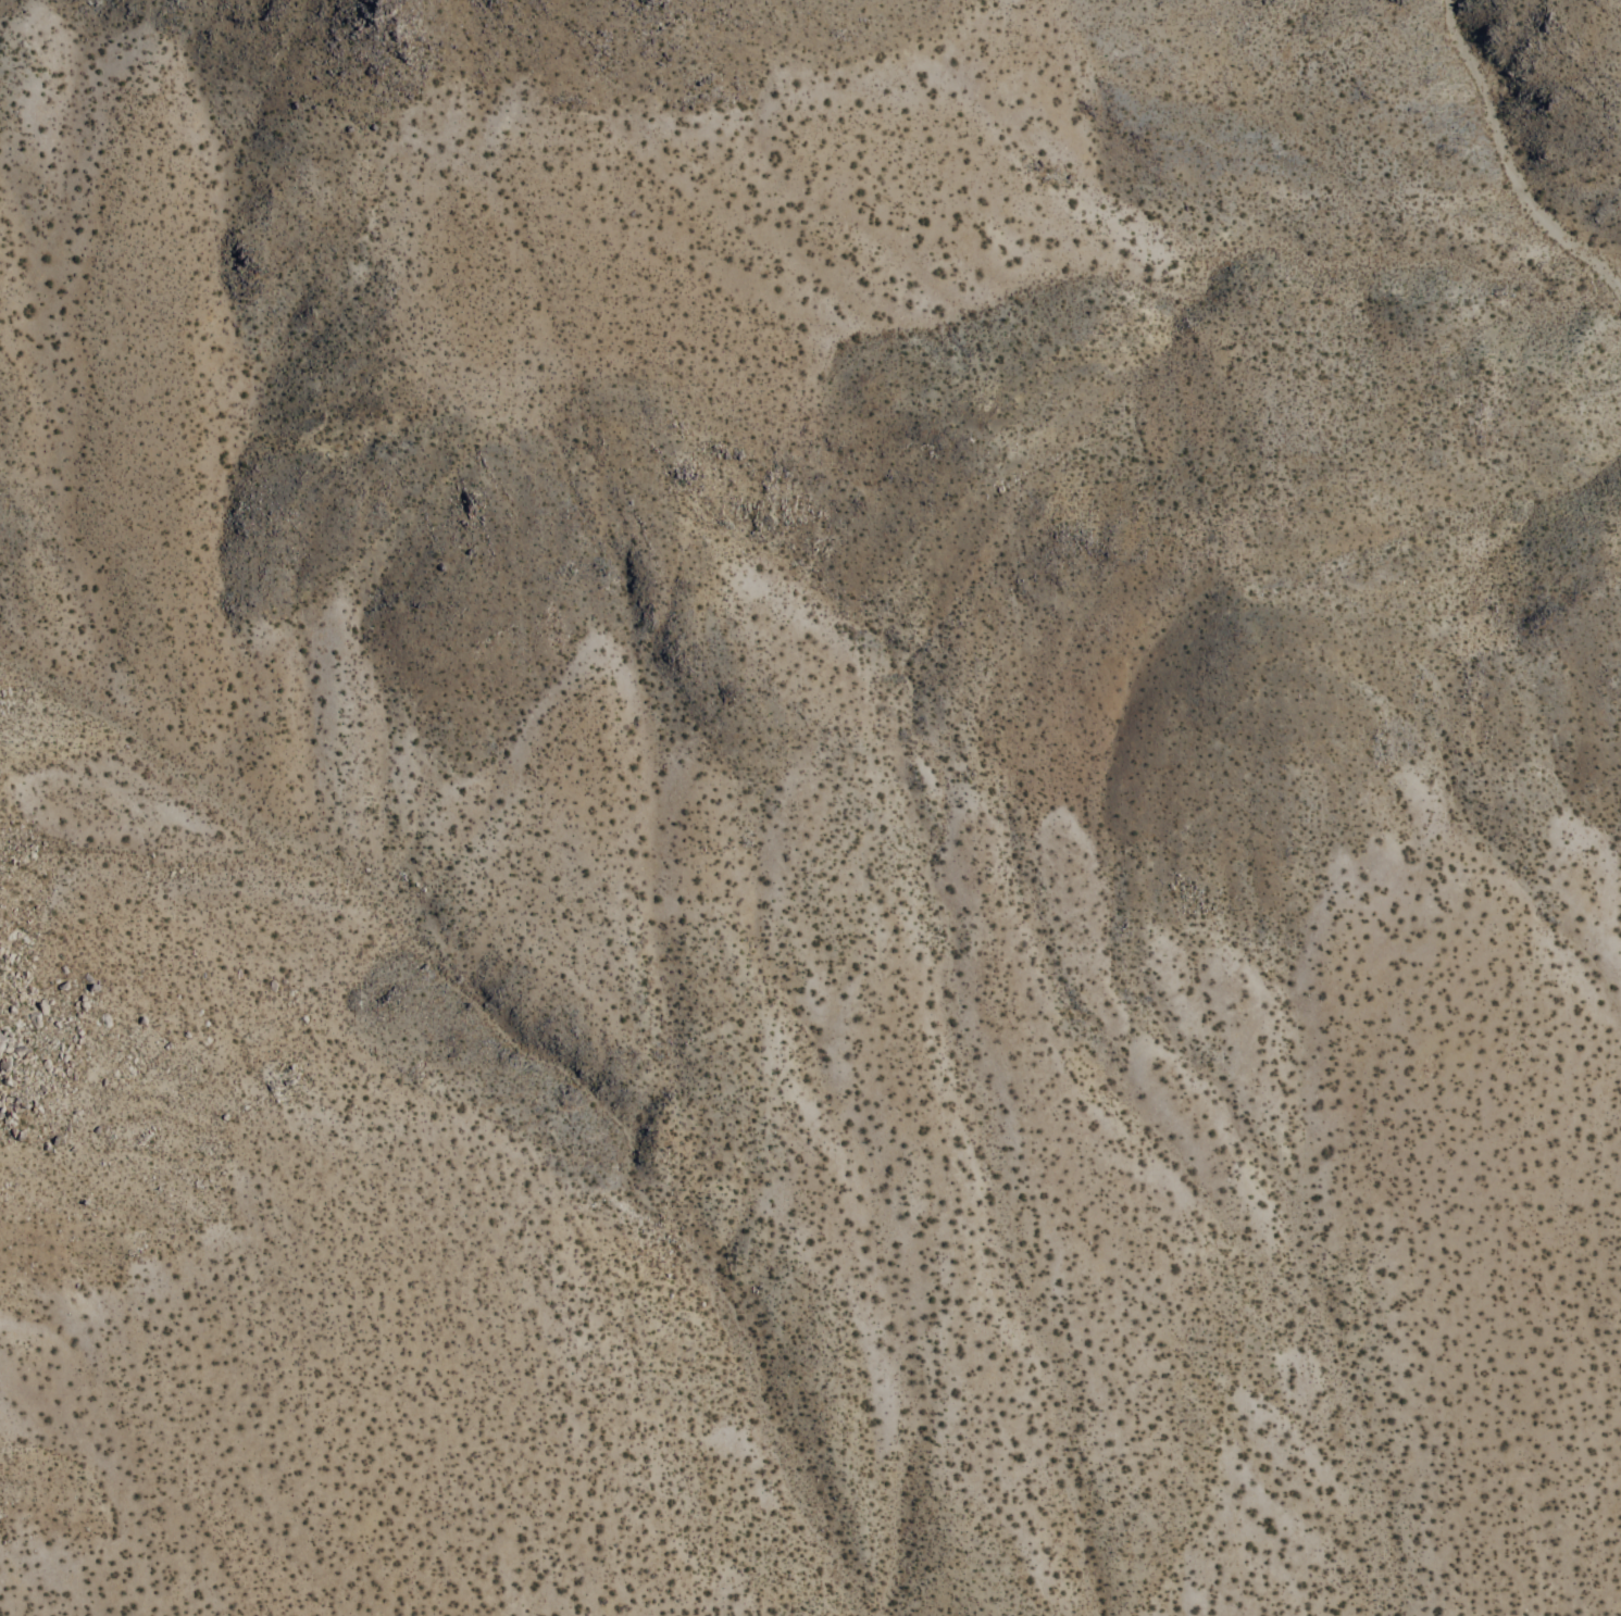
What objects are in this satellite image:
road: (1507, 167)

